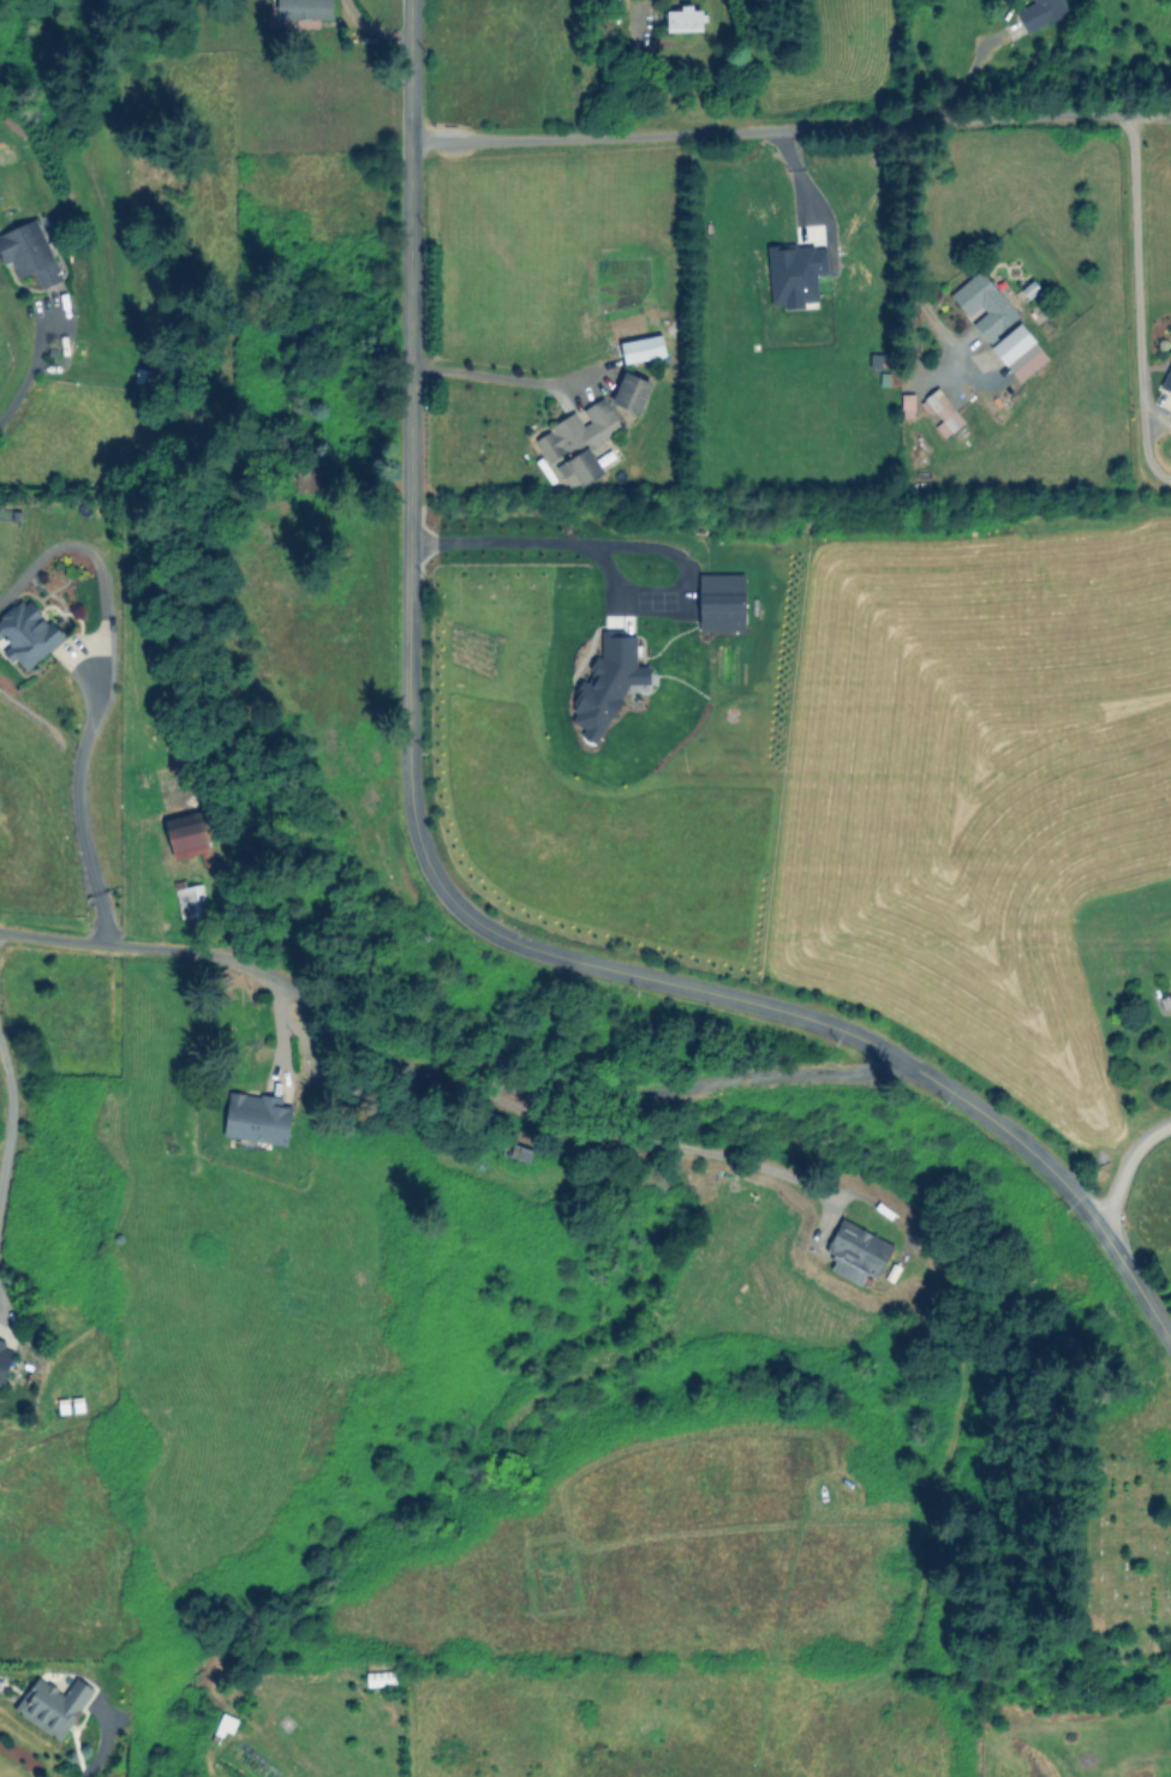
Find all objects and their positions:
building: (304, 11)
building: (1039, 12)
building: (683, 19)
road: (371, 26)
road: (789, 130)
road: (800, 192)
building: (29, 252)
road: (1135, 261)
road: (908, 269)
building: (982, 304)
building: (641, 348)
building: (1017, 352)
road: (28, 369)
road: (497, 376)
building: (1166, 379)
building: (629, 391)
building: (907, 405)
building: (943, 412)
road: (1157, 414)
building: (576, 442)
road: (1145, 449)
building: (304, 480)
road: (509, 542)
building: (26, 633)
road: (410, 694)
road: (77, 808)
building: (189, 840)
building: (189, 898)
road: (436, 1077)
road: (11, 1112)
building: (256, 1118)
road: (1010, 1133)
road: (682, 1144)
road: (1124, 1167)
building: (855, 1251)
road: (1135, 1286)
building: (4, 1360)
park: (1130, 1545)
building: (52, 1704)
road: (102, 1741)

